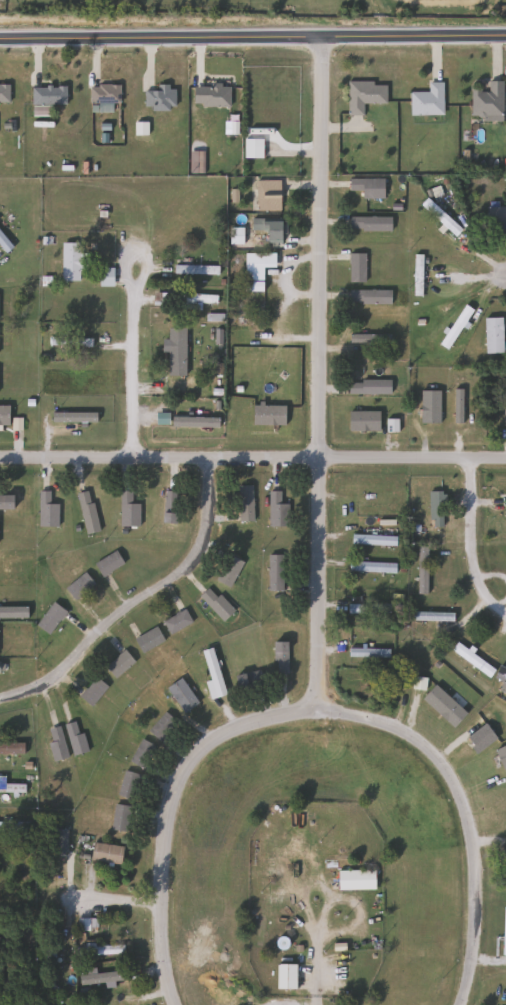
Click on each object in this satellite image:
road: (253, 35)
building: (3, 94)
building: (102, 94)
building: (362, 95)
building: (46, 96)
building: (157, 98)
building: (426, 100)
building: (486, 100)
building: (251, 148)
building: (366, 187)
building: (267, 195)
building: (496, 216)
building: (439, 217)
building: (368, 224)
building: (267, 229)
building: (234, 236)
building: (70, 262)
building: (355, 268)
building: (194, 270)
building: (254, 270)
building: (415, 271)
road: (504, 275)
building: (104, 277)
building: (368, 297)
building: (194, 300)
building: (492, 336)
building: (69, 342)
road: (135, 367)
road: (319, 371)
building: (184, 386)
building: (367, 388)
building: (362, 421)
road: (252, 458)
building: (169, 497)
building: (376, 499)
building: (5, 501)
building: (244, 503)
building: (435, 507)
building: (504, 507)
building: (45, 510)
building: (126, 510)
building: (276, 510)
building: (87, 517)
building: (167, 517)
road: (474, 539)
building: (372, 540)
building: (107, 563)
building: (371, 567)
building: (227, 570)
building: (421, 570)
building: (274, 572)
building: (78, 585)
road: (138, 599)
building: (215, 604)
building: (367, 609)
building: (49, 618)
building: (175, 622)
building: (147, 639)
building: (367, 652)
building: (279, 657)
building: (471, 659)
building: (118, 664)
building: (212, 672)
building: (247, 680)
building: (502, 684)
building: (92, 691)
building: (180, 695)
building: (160, 725)
building: (73, 737)
building: (55, 742)
building: (11, 748)
building: (141, 753)
building: (128, 784)
building: (10, 786)
road: (167, 808)
road: (469, 809)
building: (119, 817)
building: (13, 826)
building: (62, 830)
building: (105, 853)
building: (504, 865)
building: (354, 880)
road: (123, 896)
building: (85, 923)
building: (7, 941)
building: (101, 948)
building: (48, 964)
building: (284, 976)
road: (317, 983)

